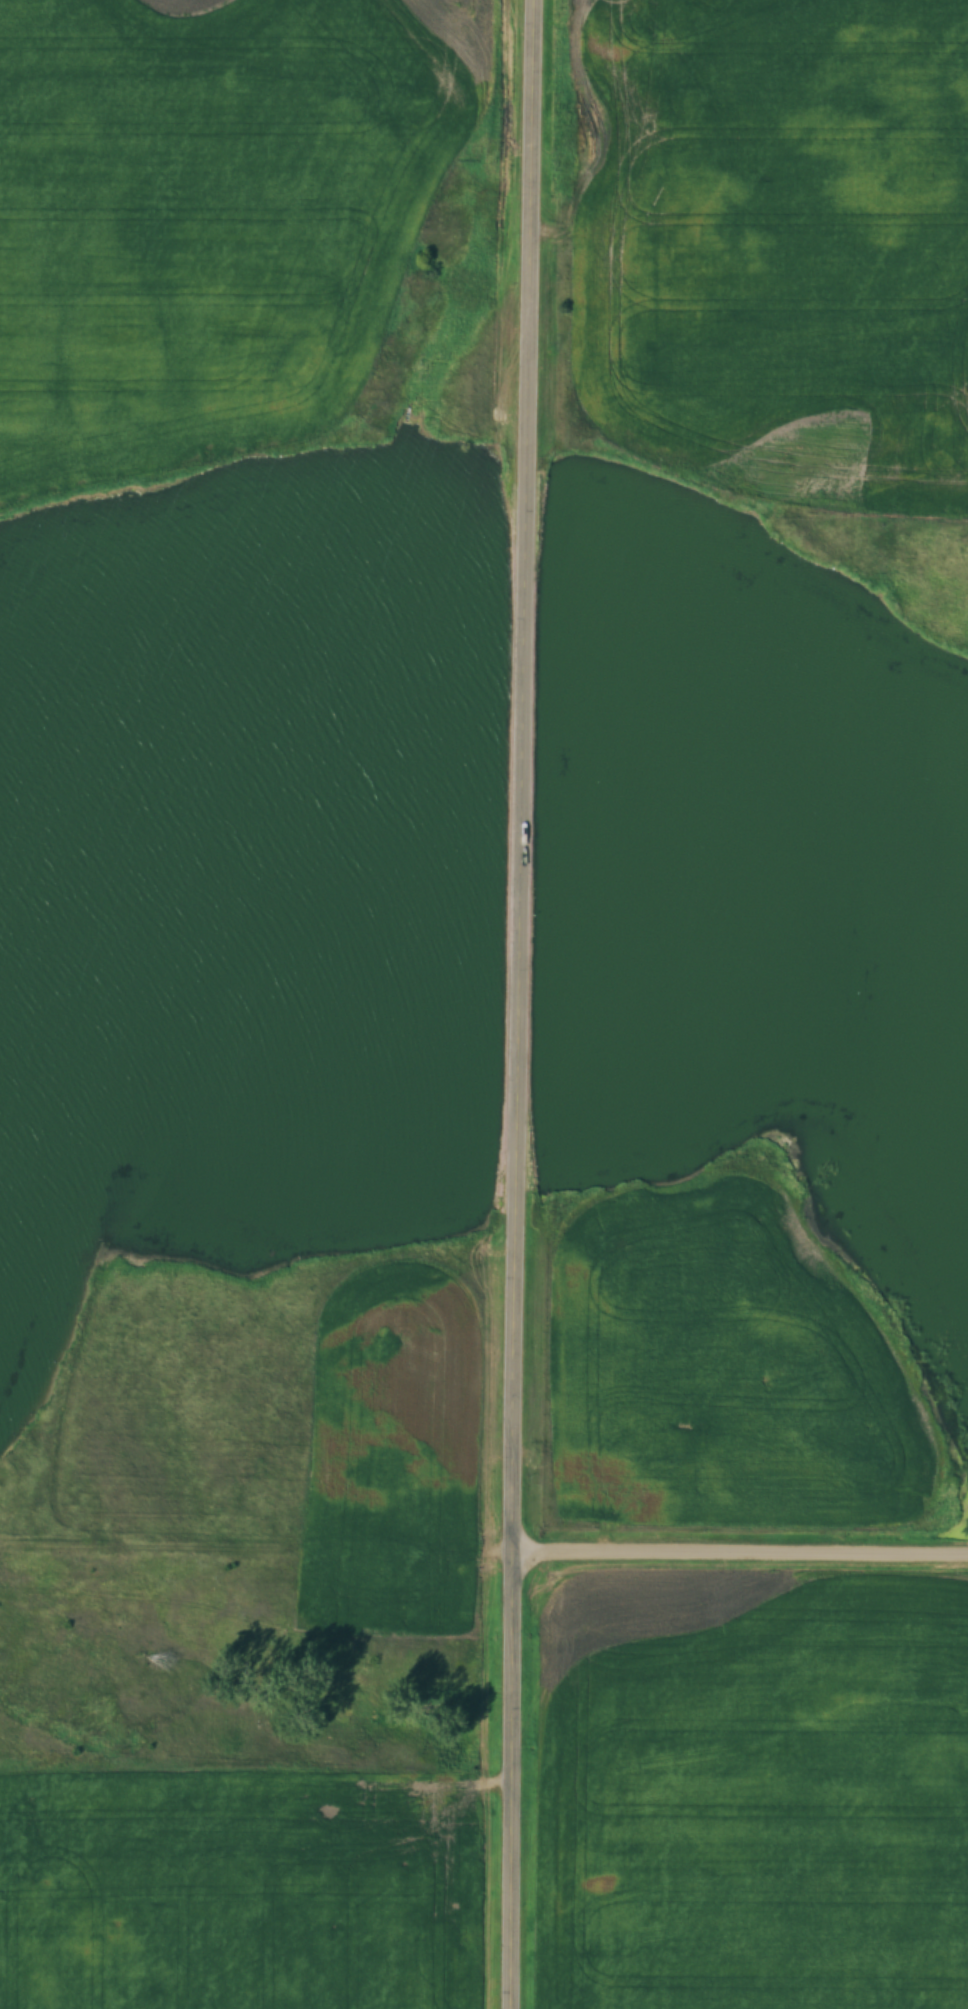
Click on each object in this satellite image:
road: (521, 1004)
road: (741, 1552)

